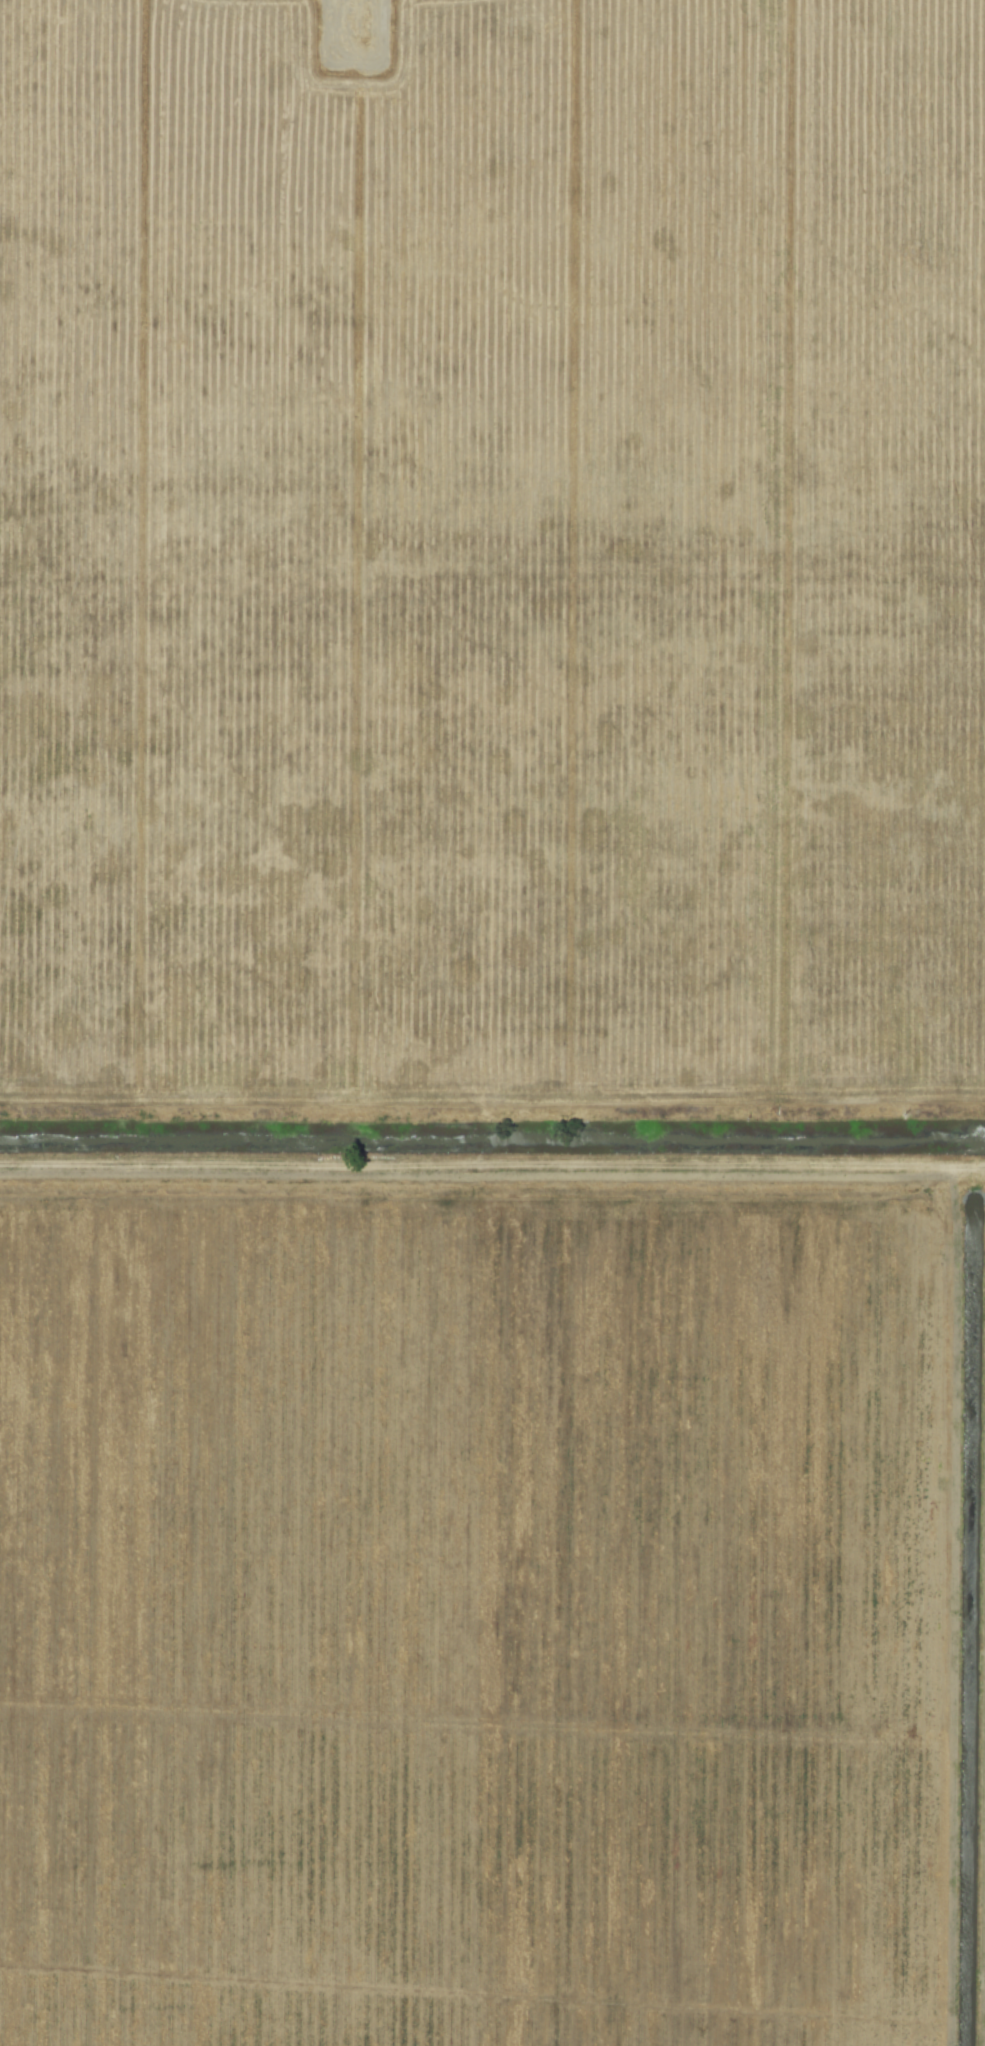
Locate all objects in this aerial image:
crop: (491, 1615)

